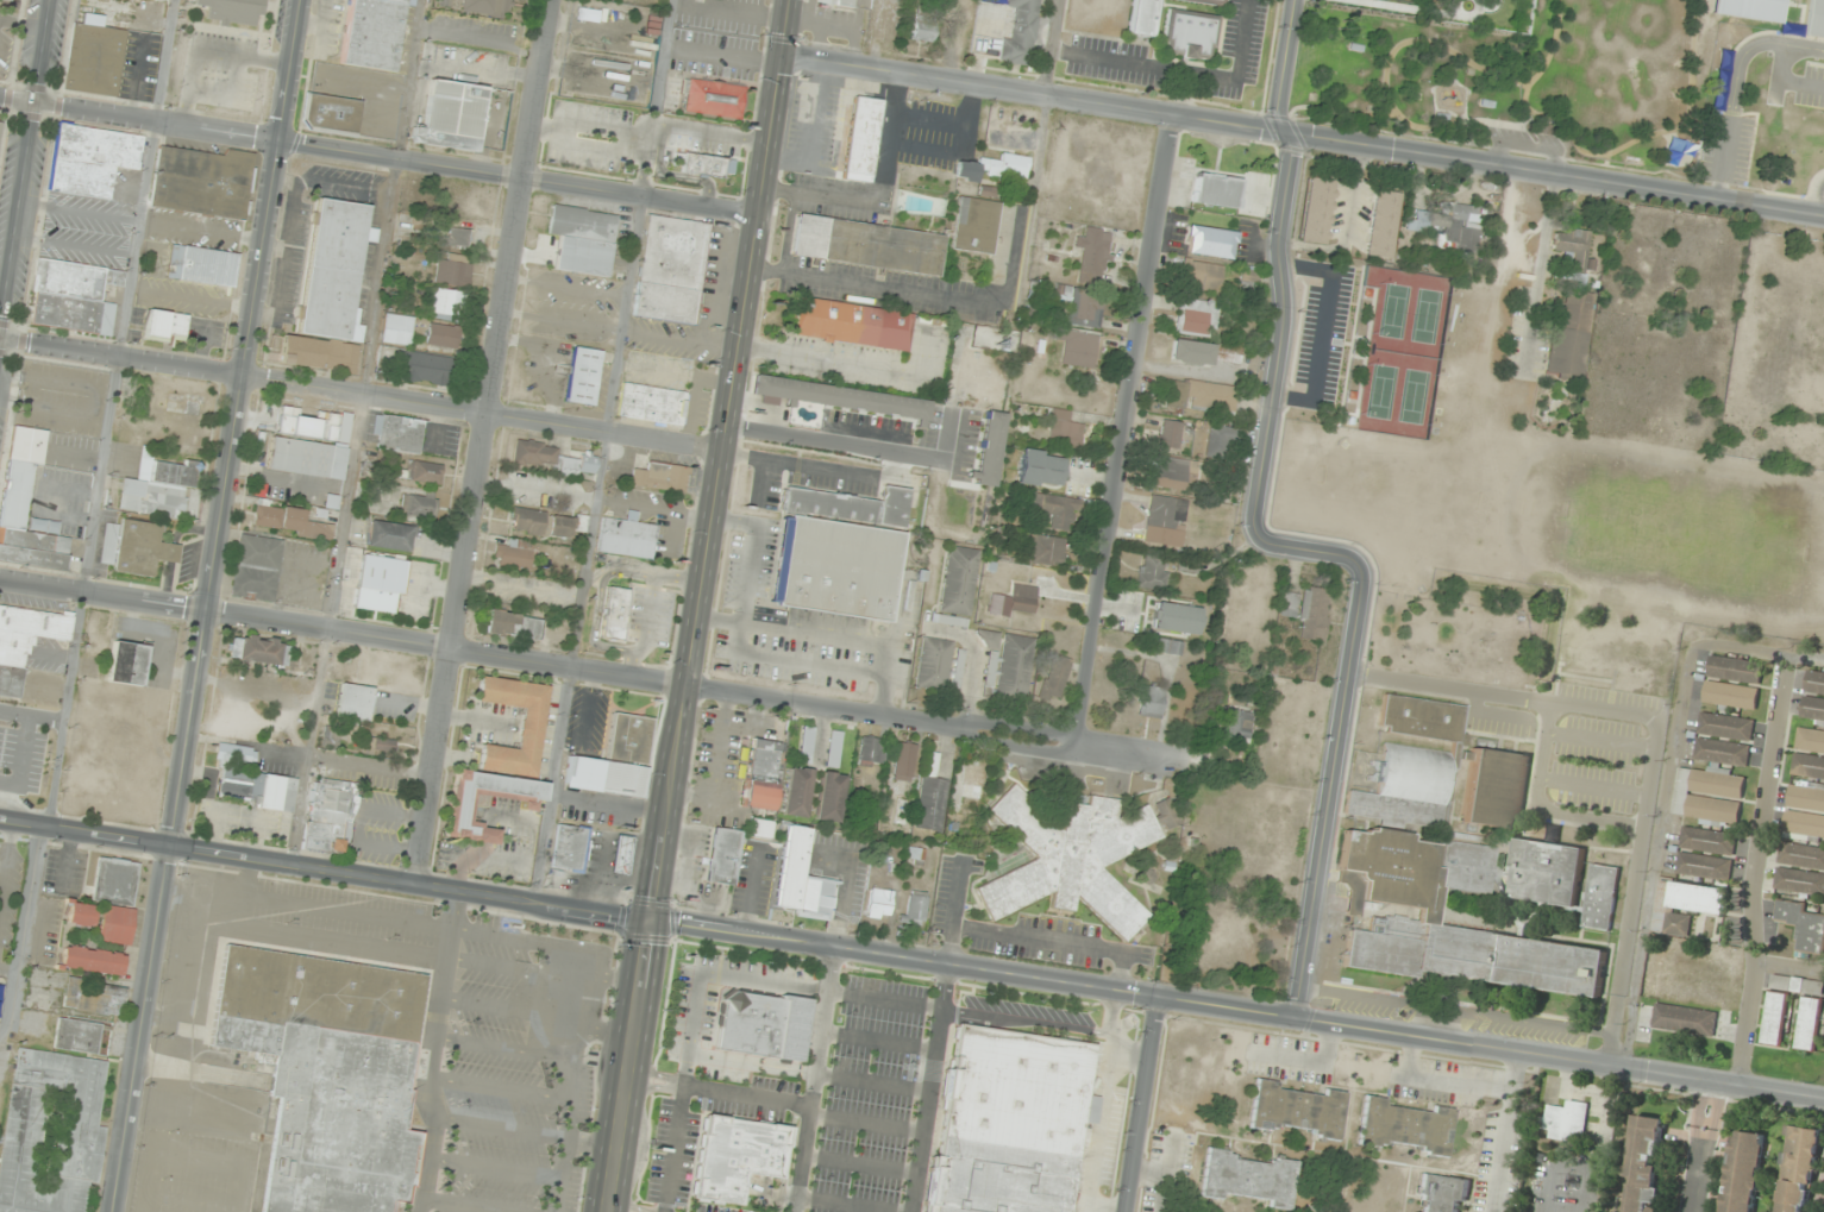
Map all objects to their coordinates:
building: (10, 0)
building: (153, 0)
building: (838, 2)
building: (1206, 2)
building: (487, 7)
building: (1749, 8)
building: (232, 11)
building: (1143, 18)
building: (1814, 18)
building: (1018, 31)
building: (372, 33)
building: (1189, 34)
building: (923, 36)
traffic signals: (783, 54)
building: (94, 61)
road: (1290, 64)
park: (1405, 76)
road: (1737, 83)
building: (714, 98)
building: (331, 114)
building: (451, 115)
road: (140, 118)
road: (713, 132)
building: (1, 133)
road: (1303, 133)
building: (860, 137)
road: (24, 155)
building: (90, 159)
building: (702, 164)
building: (992, 168)
road: (677, 174)
road: (520, 178)
building: (202, 182)
building: (1217, 191)
road: (1819, 195)
building: (1318, 211)
building: (1383, 224)
building: (1448, 224)
building: (583, 225)
building: (972, 226)
building: (458, 238)
building: (1211, 243)
building: (867, 245)
building: (1573, 253)
building: (1093, 255)
building: (202, 265)
building: (336, 270)
building: (671, 270)
building: (453, 271)
building: (1203, 277)
building: (1249, 278)
building: (74, 296)
road: (928, 299)
building: (446, 304)
building: (1085, 309)
building: (1195, 319)
building: (853, 324)
building: (167, 325)
building: (397, 329)
building: (1572, 334)
building: (441, 335)
building: (1078, 350)
building: (302, 351)
building: (1192, 353)
road: (121, 354)
building: (347, 357)
building: (426, 369)
building: (583, 378)
building: (1201, 396)
building: (836, 397)
building: (652, 404)
road: (111, 413)
road: (484, 413)
building: (1064, 431)
road: (1126, 431)
road: (357, 433)
building: (396, 434)
building: (1170, 435)
building: (1218, 439)
road: (484, 444)
road: (864, 447)
building: (991, 448)
road: (604, 452)
building: (535, 453)
building: (307, 458)
road: (722, 460)
building: (578, 465)
building: (1040, 469)
building: (425, 472)
building: (1174, 473)
building: (662, 477)
building: (158, 488)
building: (420, 504)
building: (27, 508)
building: (1059, 511)
building: (292, 521)
building: (1166, 521)
building: (541, 522)
building: (389, 536)
building: (627, 538)
building: (142, 548)
building: (1047, 550)
building: (840, 552)
building: (513, 557)
road: (1333, 558)
building: (257, 567)
building: (1153, 572)
building: (960, 580)
building: (381, 584)
road: (104, 594)
building: (1014, 601)
building: (1289, 604)
road: (208, 605)
building: (615, 614)
building: (1314, 614)
building: (514, 624)
building: (989, 639)
building: (25, 641)
building: (1168, 646)
building: (257, 649)
road: (52, 654)
building: (1586, 659)
building: (127, 662)
building: (935, 664)
building: (1015, 665)
building: (1640, 666)
building: (1509, 673)
building: (1054, 677)
building: (1732, 683)
road: (690, 685)
building: (1813, 697)
building: (355, 702)
building: (1151, 702)
road: (30, 716)
road: (754, 716)
building: (1422, 718)
building: (1239, 724)
building: (531, 726)
building: (1725, 727)
building: (331, 736)
road: (1654, 739)
road: (1600, 740)
road: (717, 745)
building: (382, 746)
building: (873, 751)
building: (1722, 752)
building: (236, 753)
building: (1810, 754)
parking lot: (20, 759)
building: (615, 759)
road: (21, 760)
building: (905, 761)
building: (764, 774)
building: (972, 781)
road: (1593, 785)
building: (1409, 787)
building: (256, 789)
building: (1494, 791)
building: (797, 792)
road: (702, 796)
building: (830, 797)
building: (932, 797)
building: (1709, 797)
road: (1542, 804)
building: (460, 806)
building: (1167, 812)
building: (1805, 812)
building: (331, 815)
building: (761, 829)
building: (1707, 841)
traffic signals: (173, 846)
building: (570, 848)
building: (622, 854)
building: (723, 855)
building: (916, 855)
road: (65, 859)
building: (1072, 859)
road: (6, 862)
building: (1704, 867)
building: (1800, 871)
road: (325, 872)
building: (1546, 873)
road: (1755, 875)
building: (802, 880)
building: (115, 881)
building: (1602, 897)
building: (880, 903)
building: (1687, 904)
building: (915, 908)
building: (81, 913)
building: (1404, 918)
traffic signals: (651, 922)
building: (117, 924)
building: (1803, 927)
road: (21, 937)
building: (93, 961)
road: (8, 966)
building: (1693, 987)
building: (94, 997)
road: (883, 999)
building: (569, 1000)
building: (1804, 1006)
road: (1237, 1007)
road: (1026, 1019)
building: (1684, 1019)
building: (1774, 1019)
building: (760, 1025)
road: (692, 1029)
building: (77, 1036)
road: (877, 1042)
road: (433, 1053)
road: (1128, 1054)
road: (751, 1063)
road: (629, 1066)
building: (328, 1073)
road: (813, 1080)
road: (871, 1082)
road: (719, 1088)
road: (928, 1088)
road: (1102, 1100)
road: (1139, 1104)
building: (1297, 1110)
road: (865, 1122)
building: (1566, 1123)
building: (1007, 1124)
building: (1405, 1126)
building: (52, 1132)
road: (1700, 1148)
road: (786, 1156)
building: (733, 1157)
road: (858, 1163)
building: (1646, 1163)
building: (1799, 1169)
building: (1744, 1172)
building: (1249, 1179)
building: (1440, 1193)
road: (844, 1205)
road: (1105, 1205)

